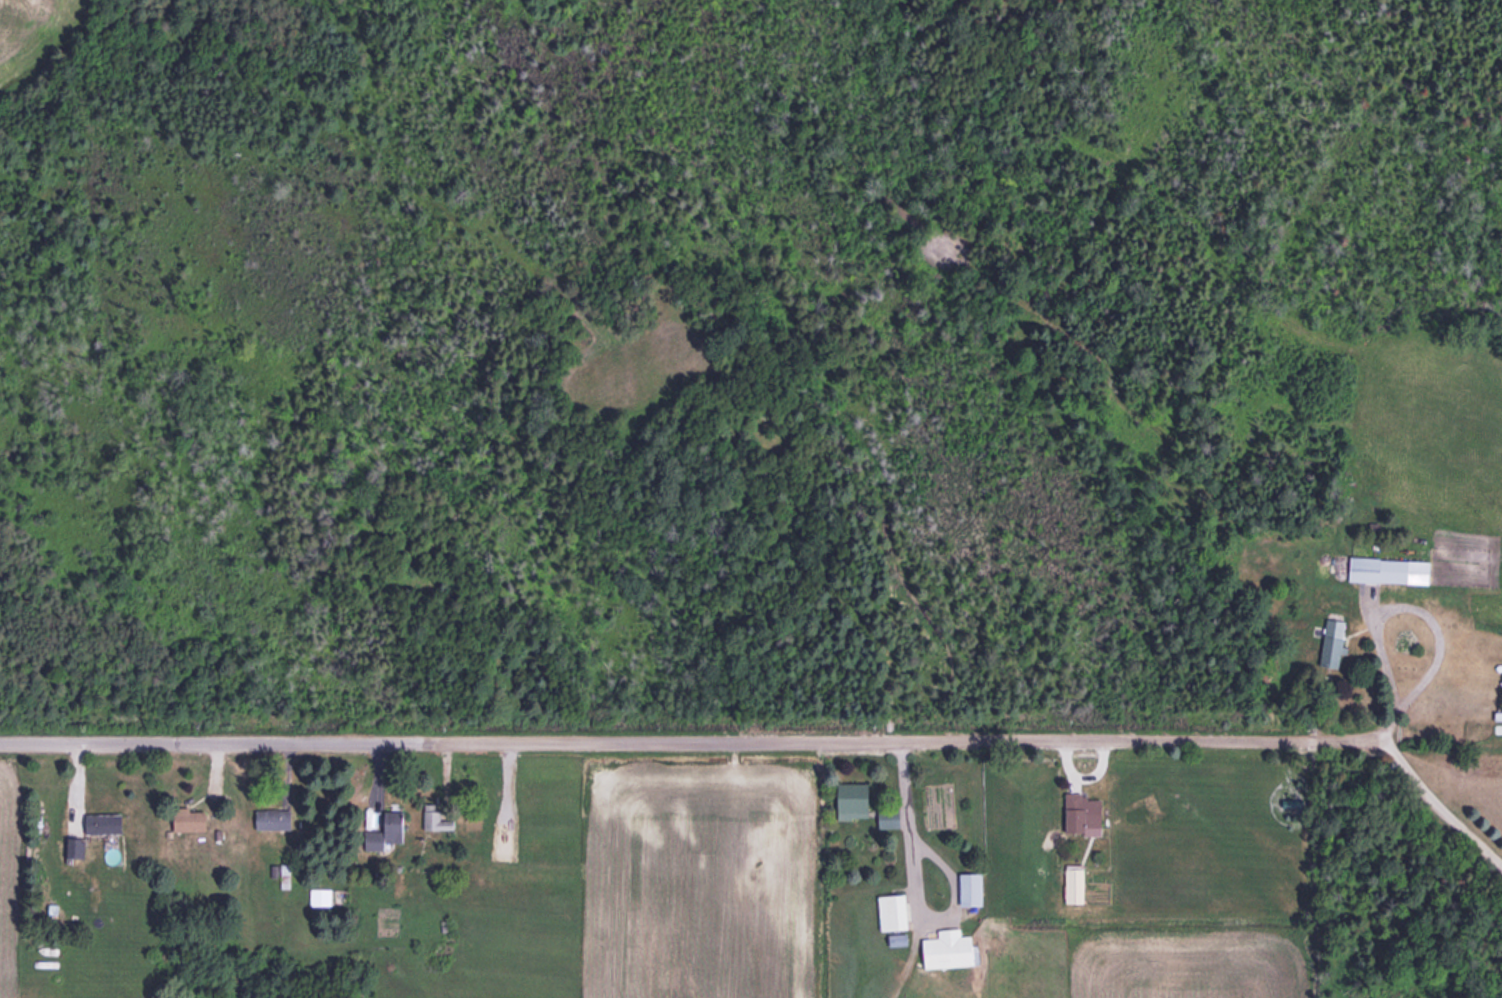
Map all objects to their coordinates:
building: (1392, 570)
building: (1330, 643)
building: (1496, 715)
road: (890, 739)
road: (197, 740)
building: (854, 800)
building: (1084, 814)
building: (441, 818)
building: (275, 820)
building: (192, 821)
building: (388, 822)
building: (105, 823)
building: (75, 848)
building: (973, 889)
building: (895, 911)
building: (952, 949)
building: (670, 979)

